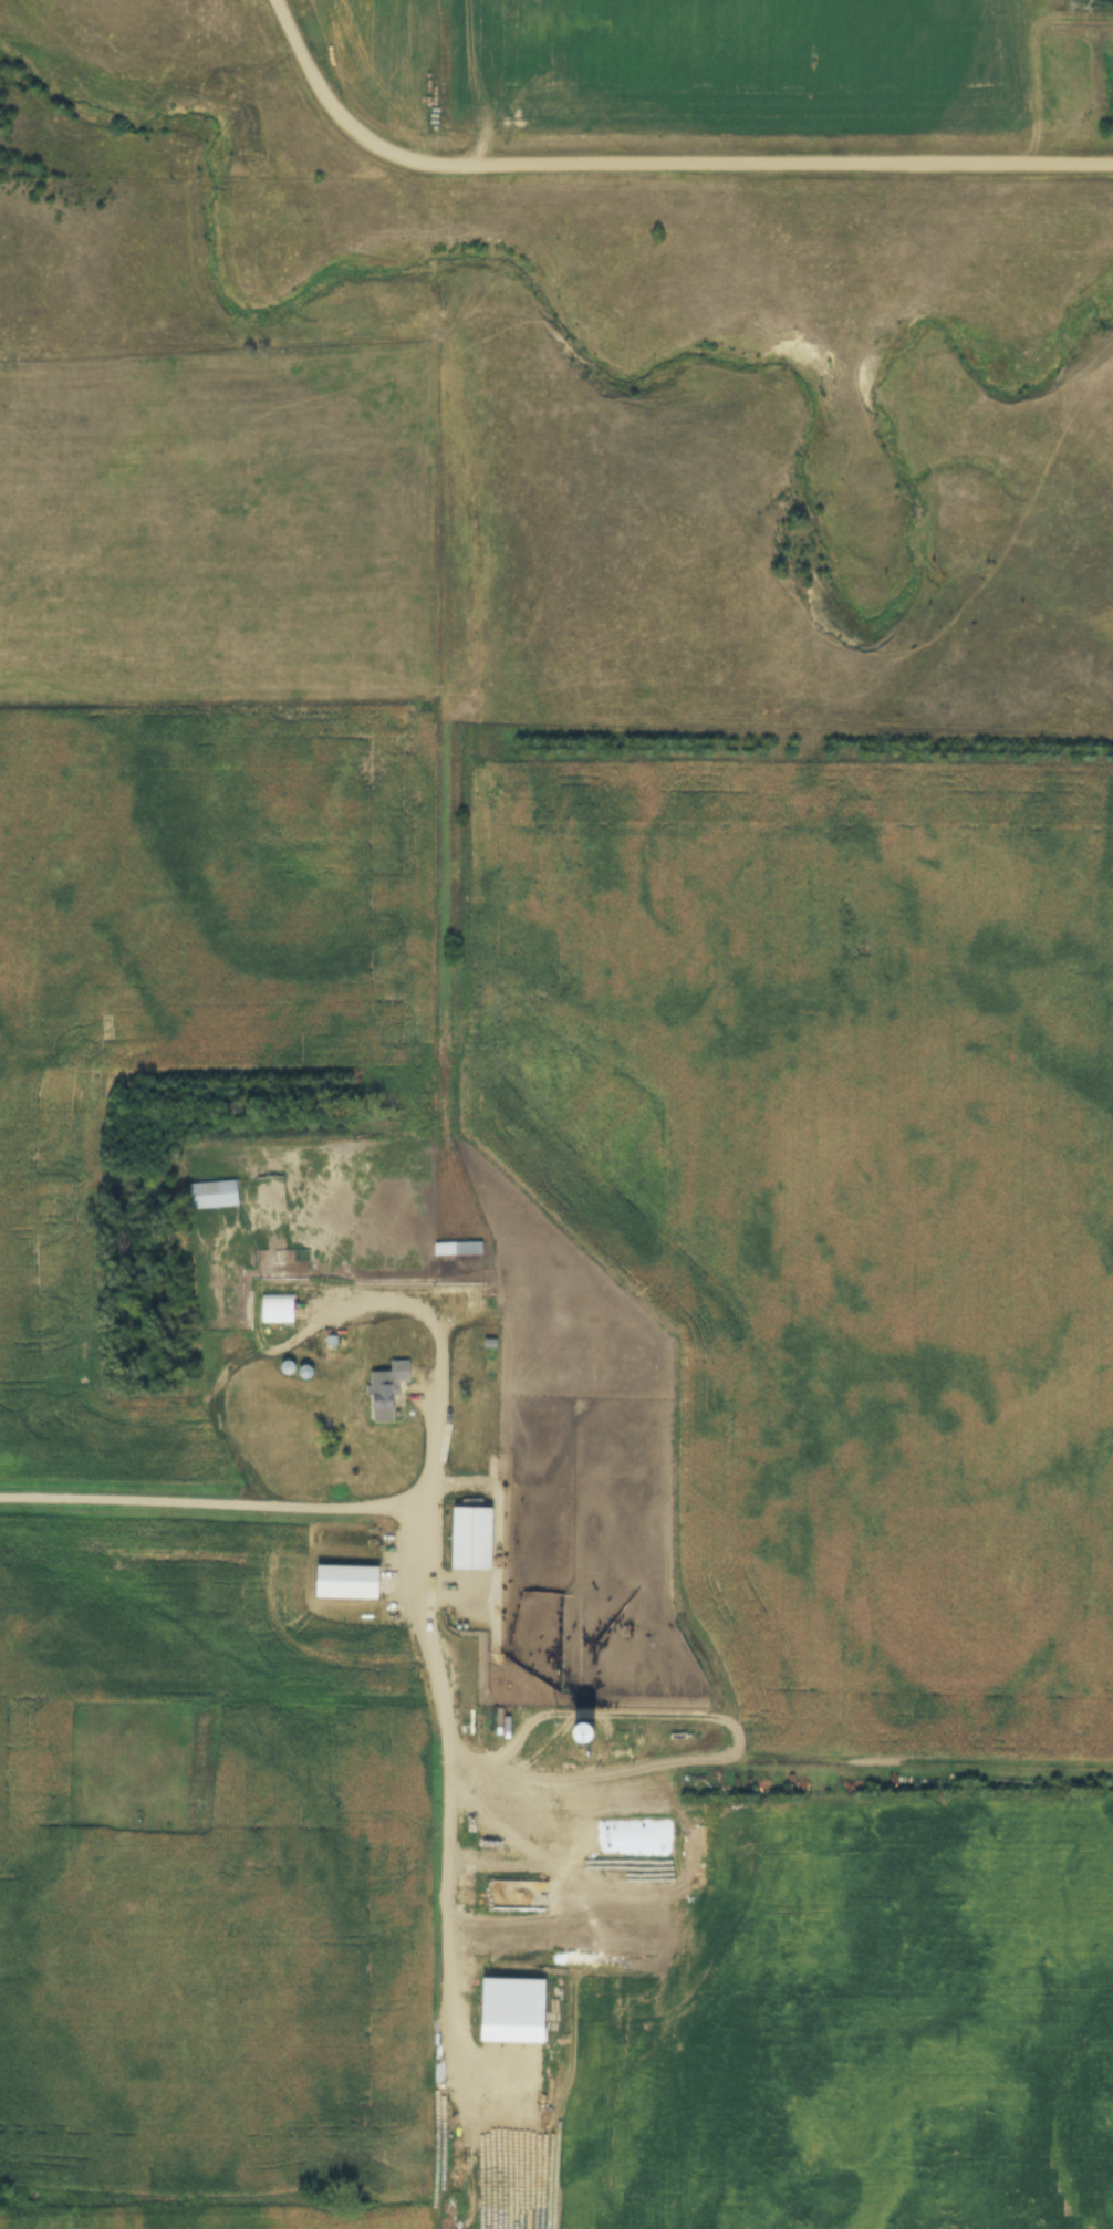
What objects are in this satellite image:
road: (655, 164)
building: (214, 1196)
building: (456, 1251)
building: (299, 1265)
building: (278, 1311)
building: (399, 1373)
building: (382, 1403)
building: (471, 1540)
road: (420, 1562)
building: (583, 1735)
building: (512, 2011)

